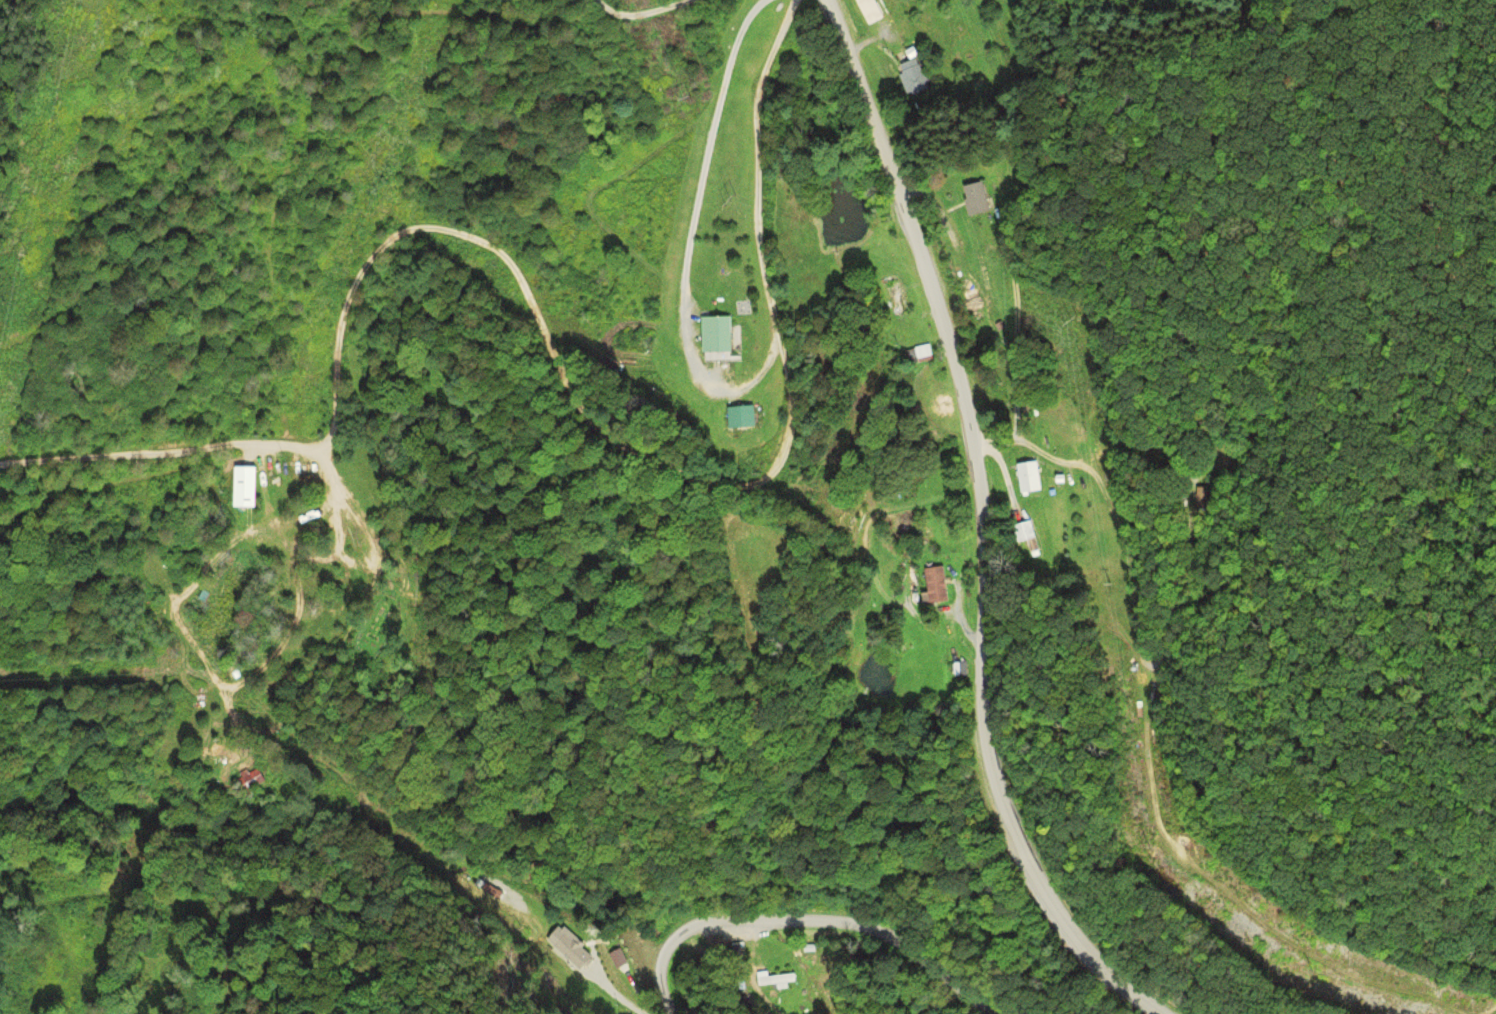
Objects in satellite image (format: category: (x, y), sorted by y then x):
building: (870, 10)
building: (917, 77)
building: (977, 198)
building: (901, 295)
building: (720, 334)
building: (926, 350)
building: (746, 418)
building: (1031, 476)
building: (249, 485)
road: (983, 524)
building: (1032, 538)
building: (937, 585)
building: (957, 667)
building: (253, 782)
road: (806, 920)
building: (567, 950)
building: (779, 976)

